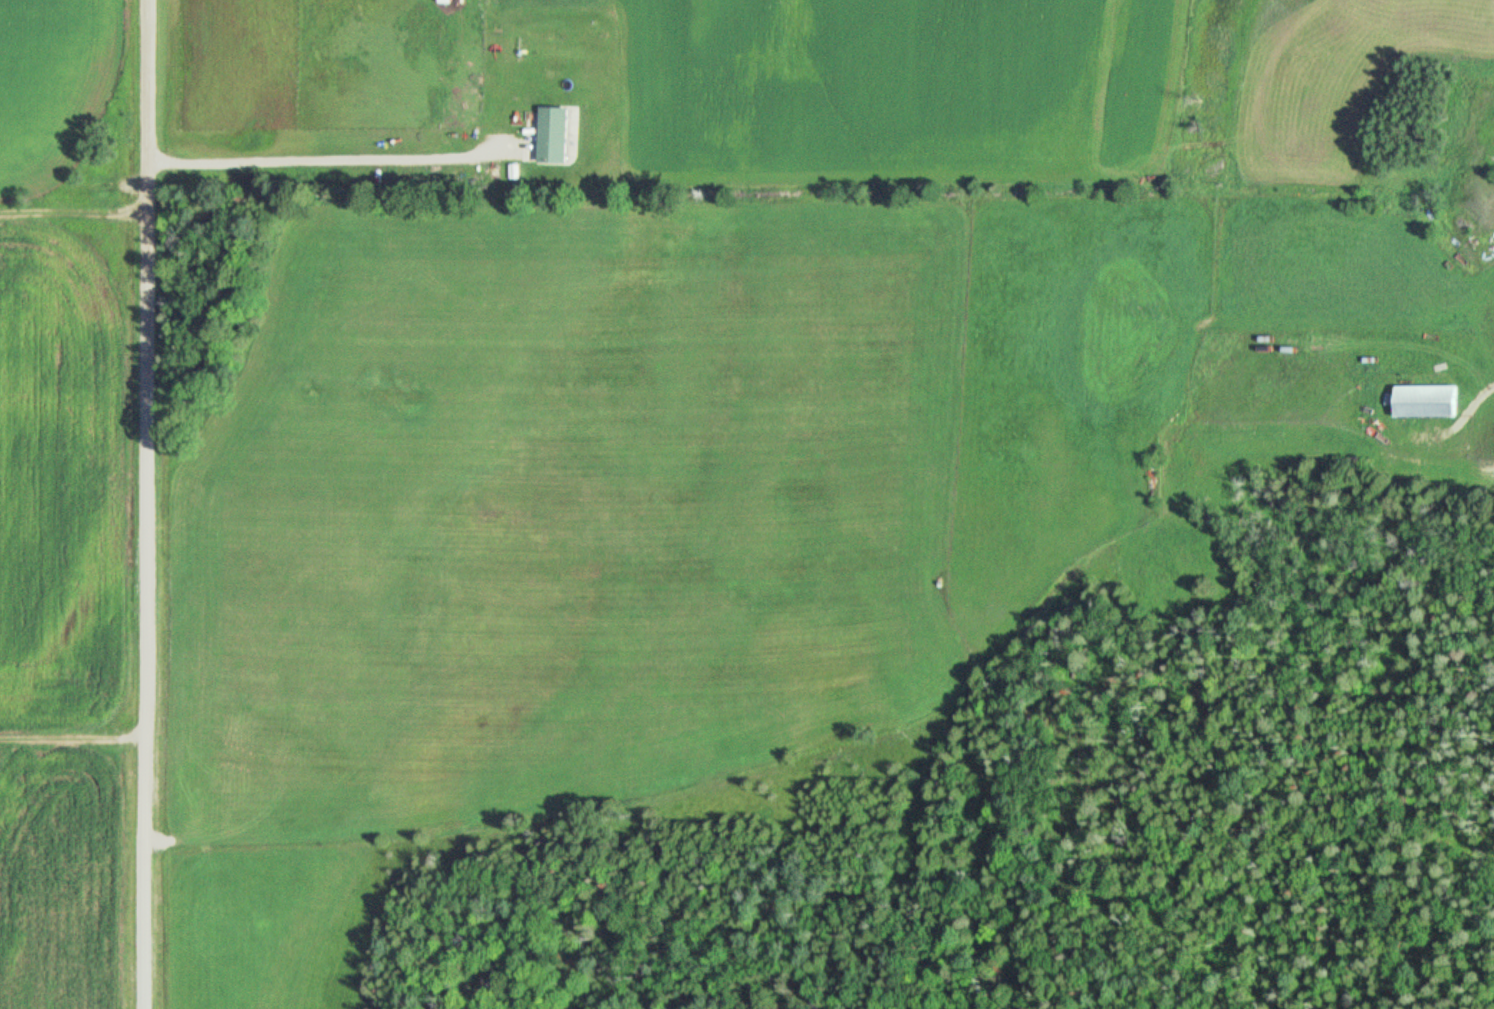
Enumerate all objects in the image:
building: (555, 136)
road: (333, 162)
building: (1426, 403)
road: (141, 504)
road: (70, 658)
road: (71, 740)

